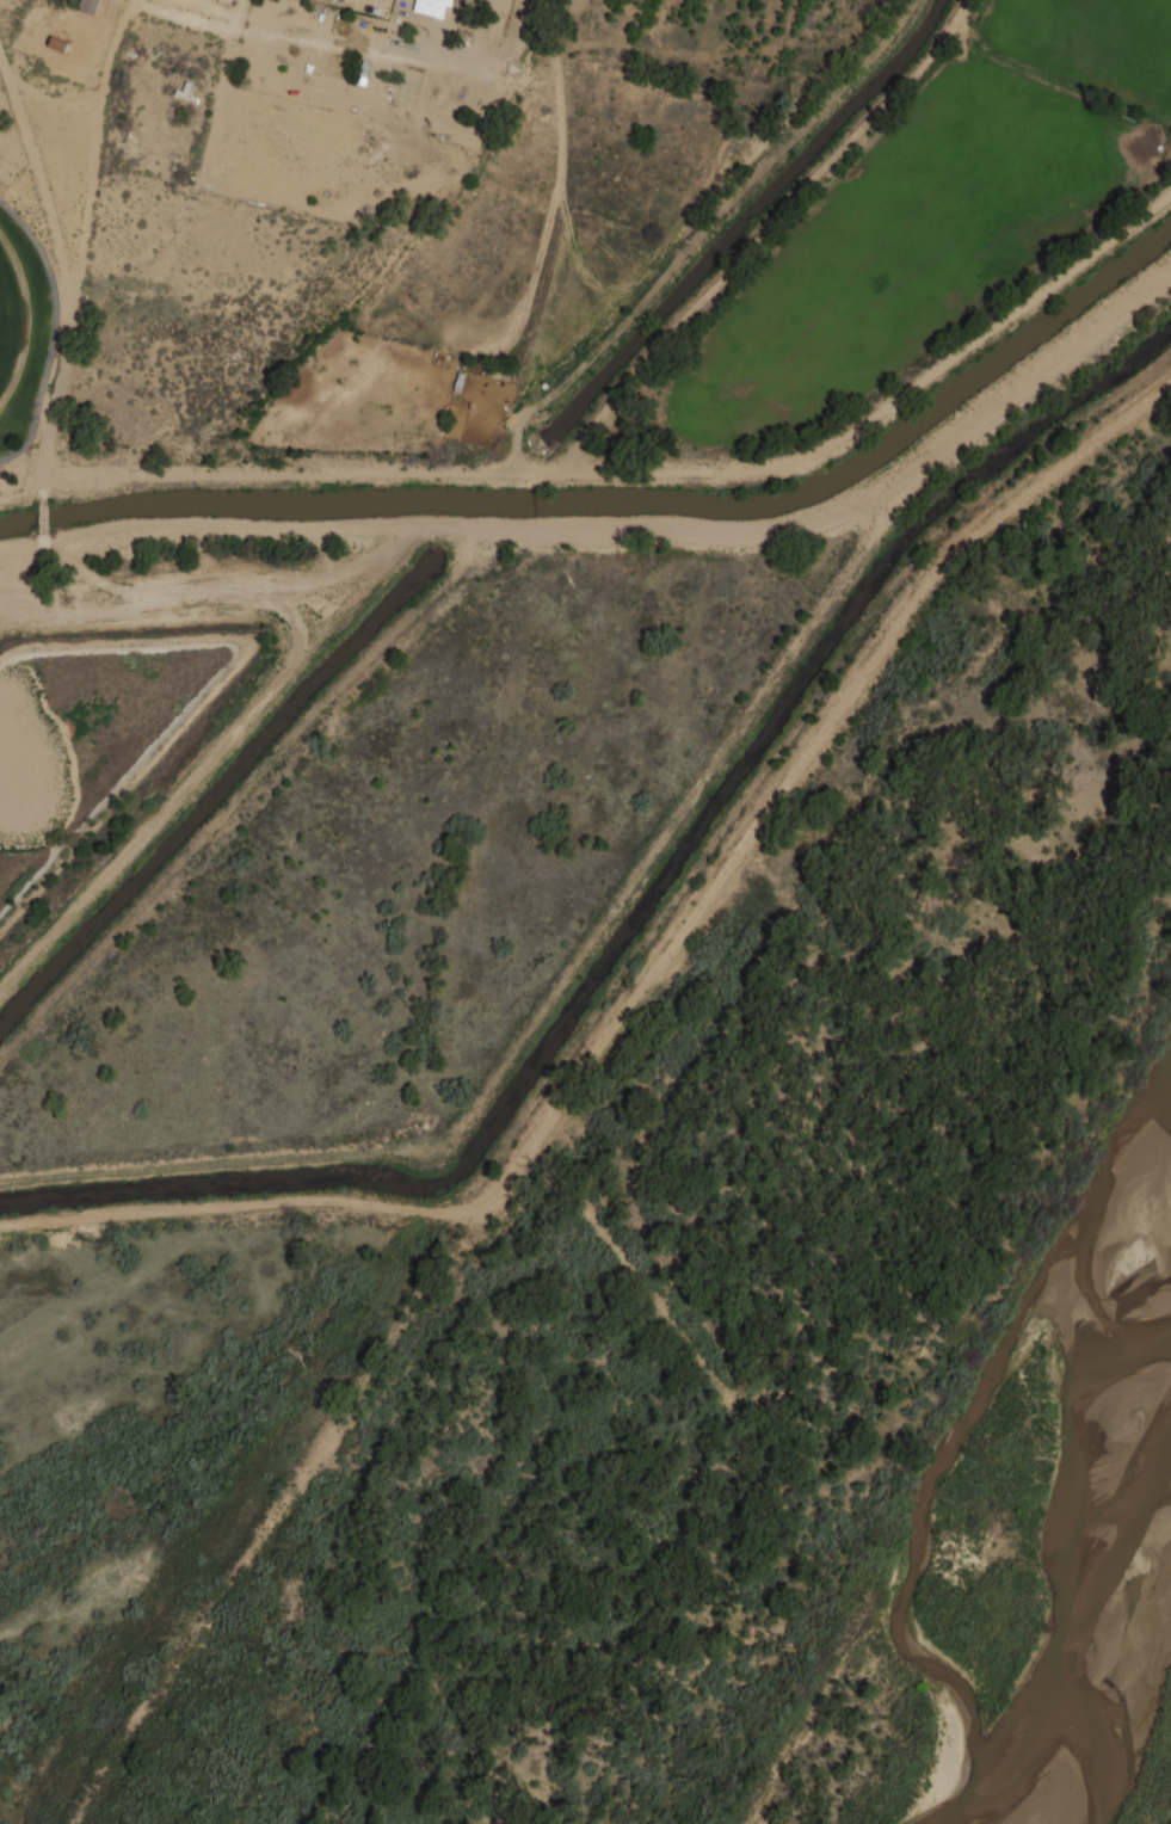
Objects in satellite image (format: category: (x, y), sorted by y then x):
building: (333, 1)
building: (432, 7)
building: (57, 43)
park: (10, 316)
river: (1048, 1549)

